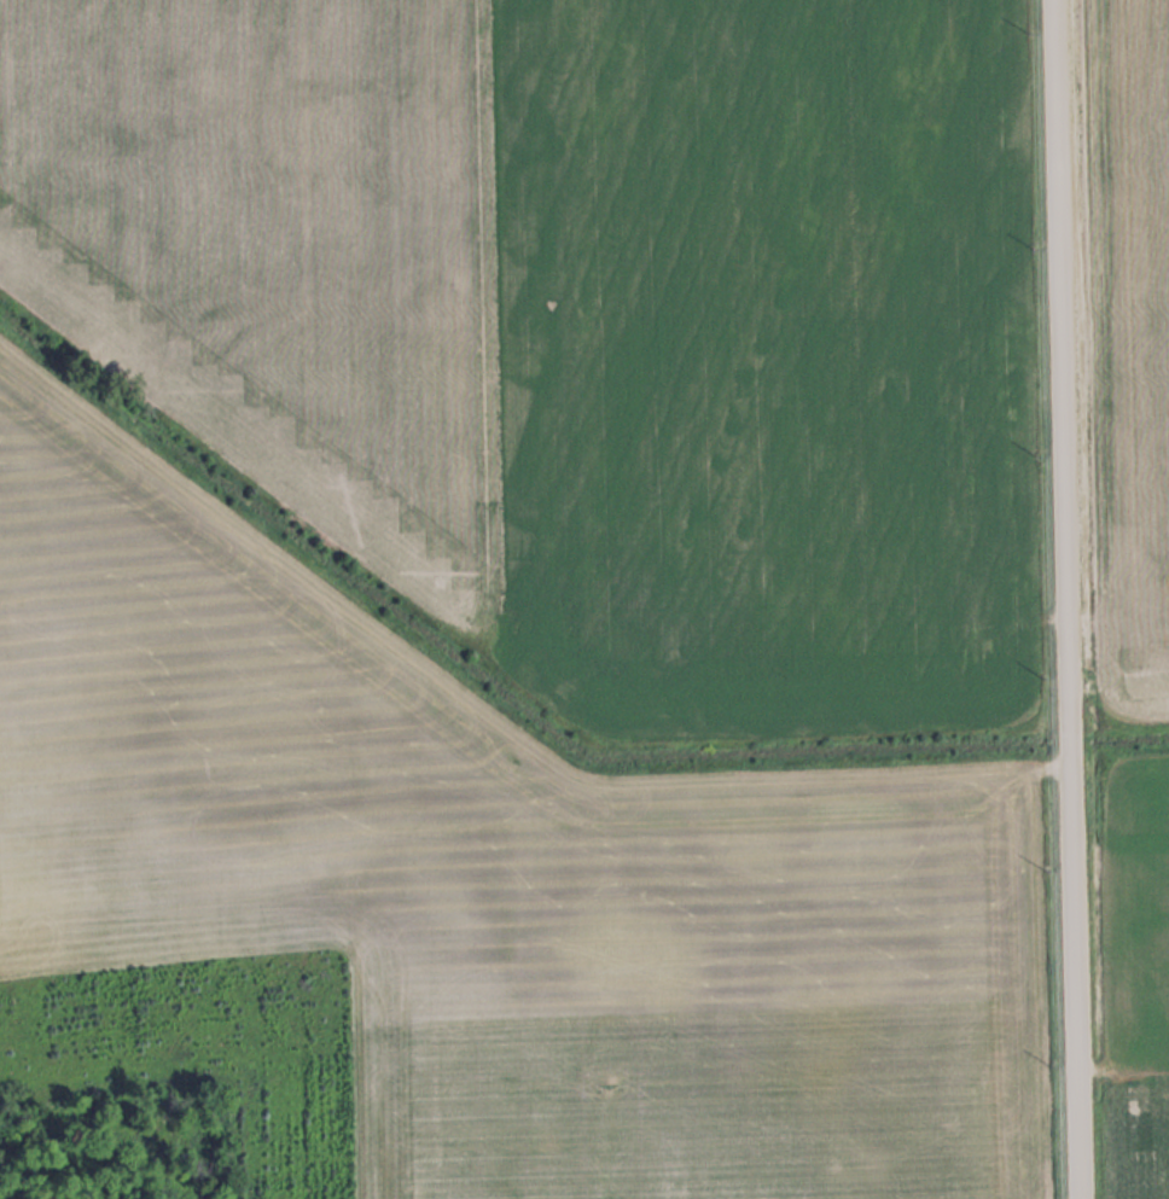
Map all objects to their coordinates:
road: (1063, 599)

